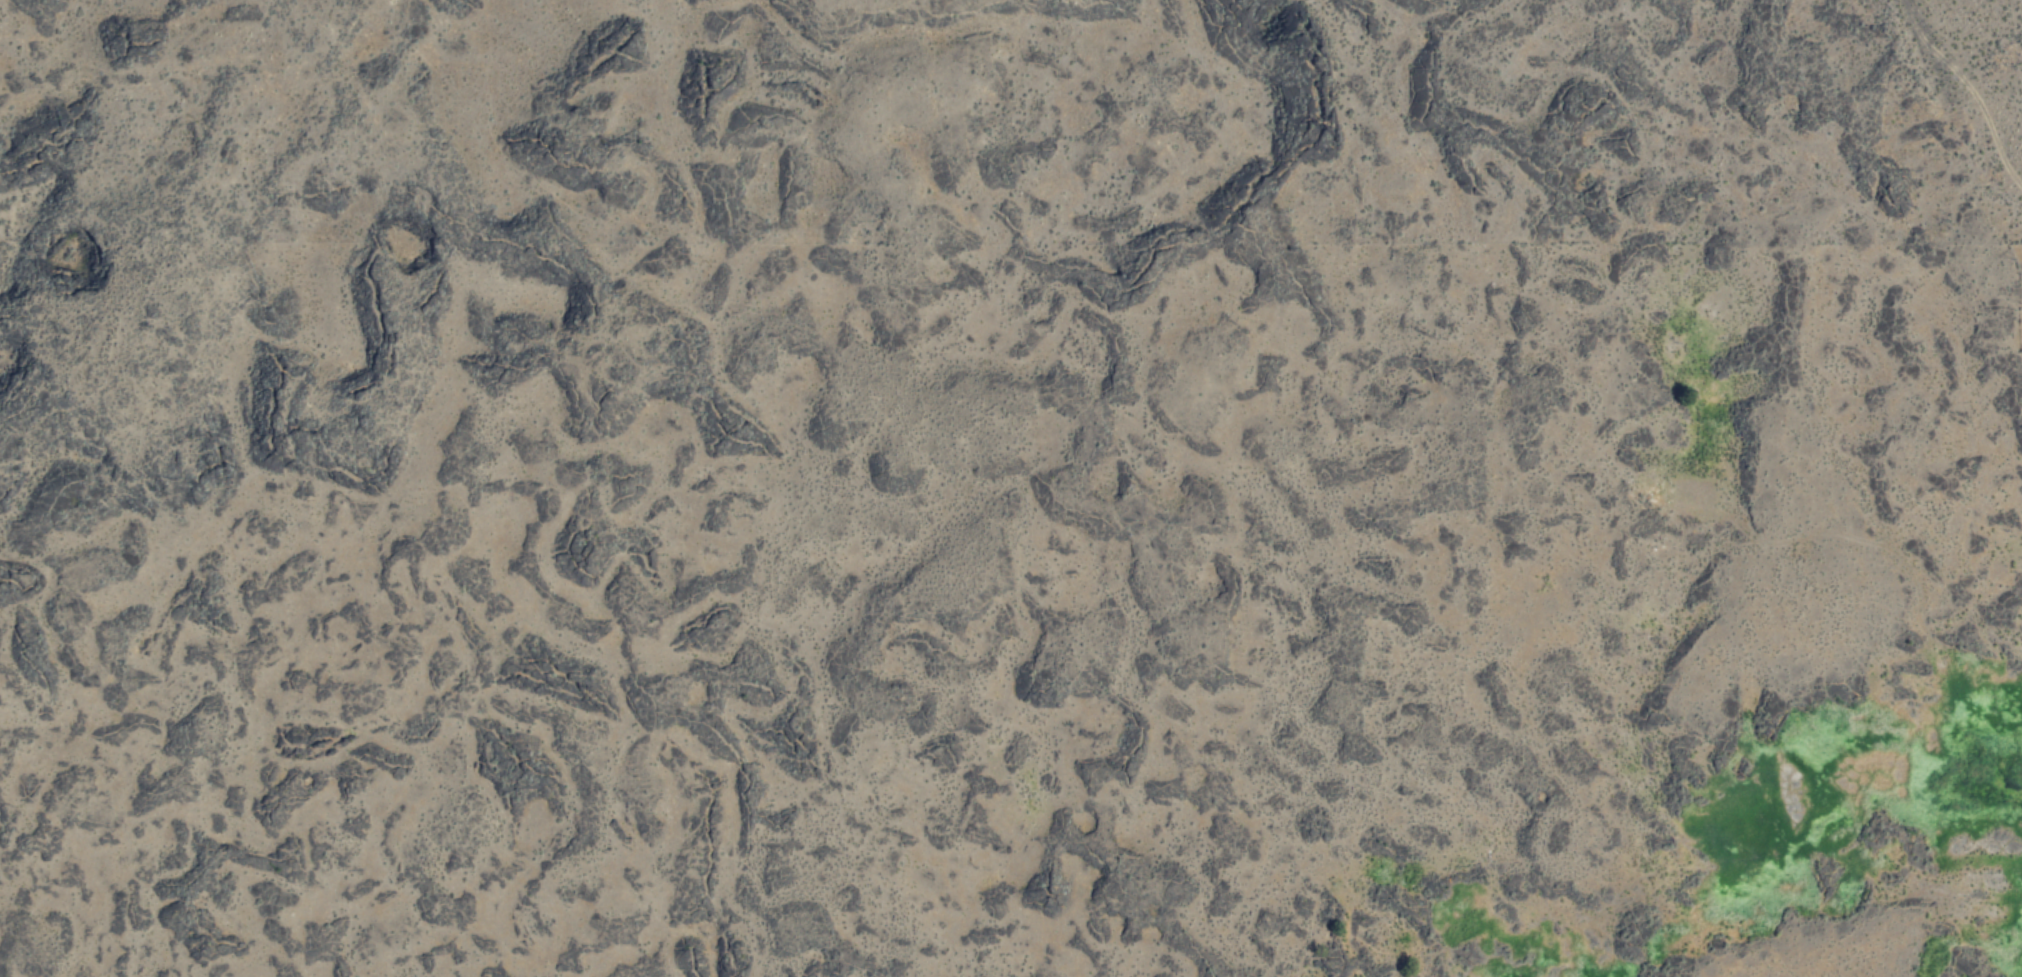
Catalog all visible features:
road: (1968, 90)

